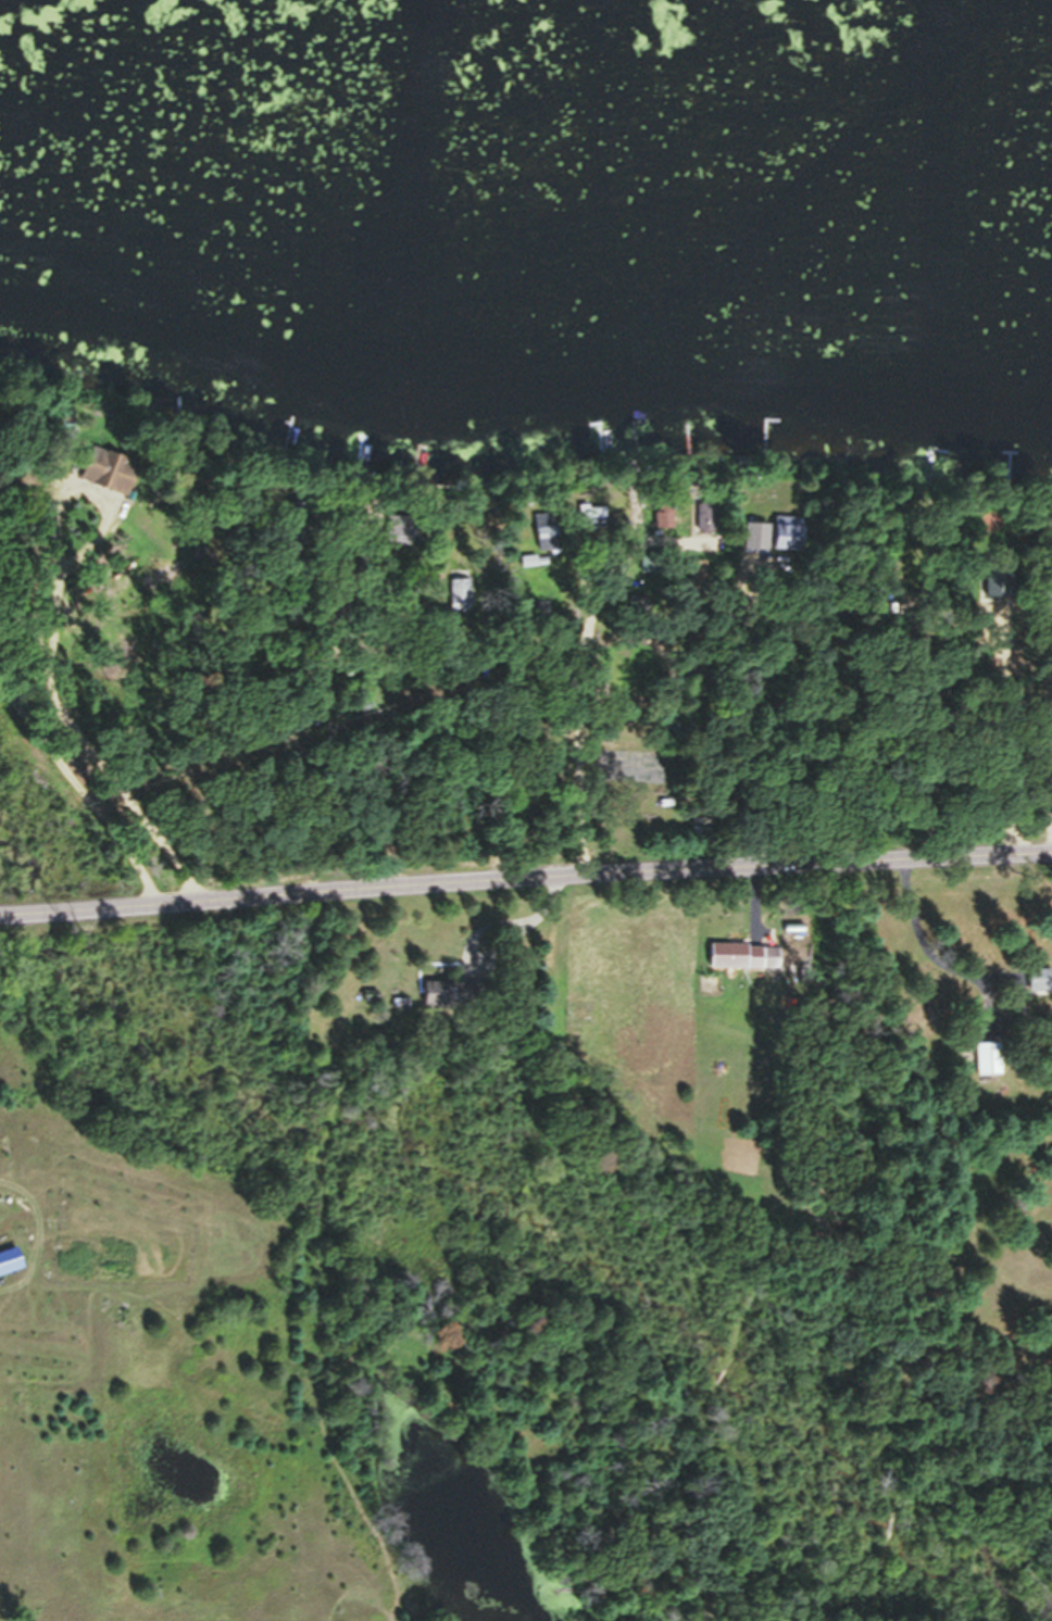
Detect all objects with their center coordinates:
building: (461, 600)
road: (48, 651)
road: (525, 877)
building: (731, 966)
building: (1041, 989)
building: (444, 1006)
building: (993, 1068)

